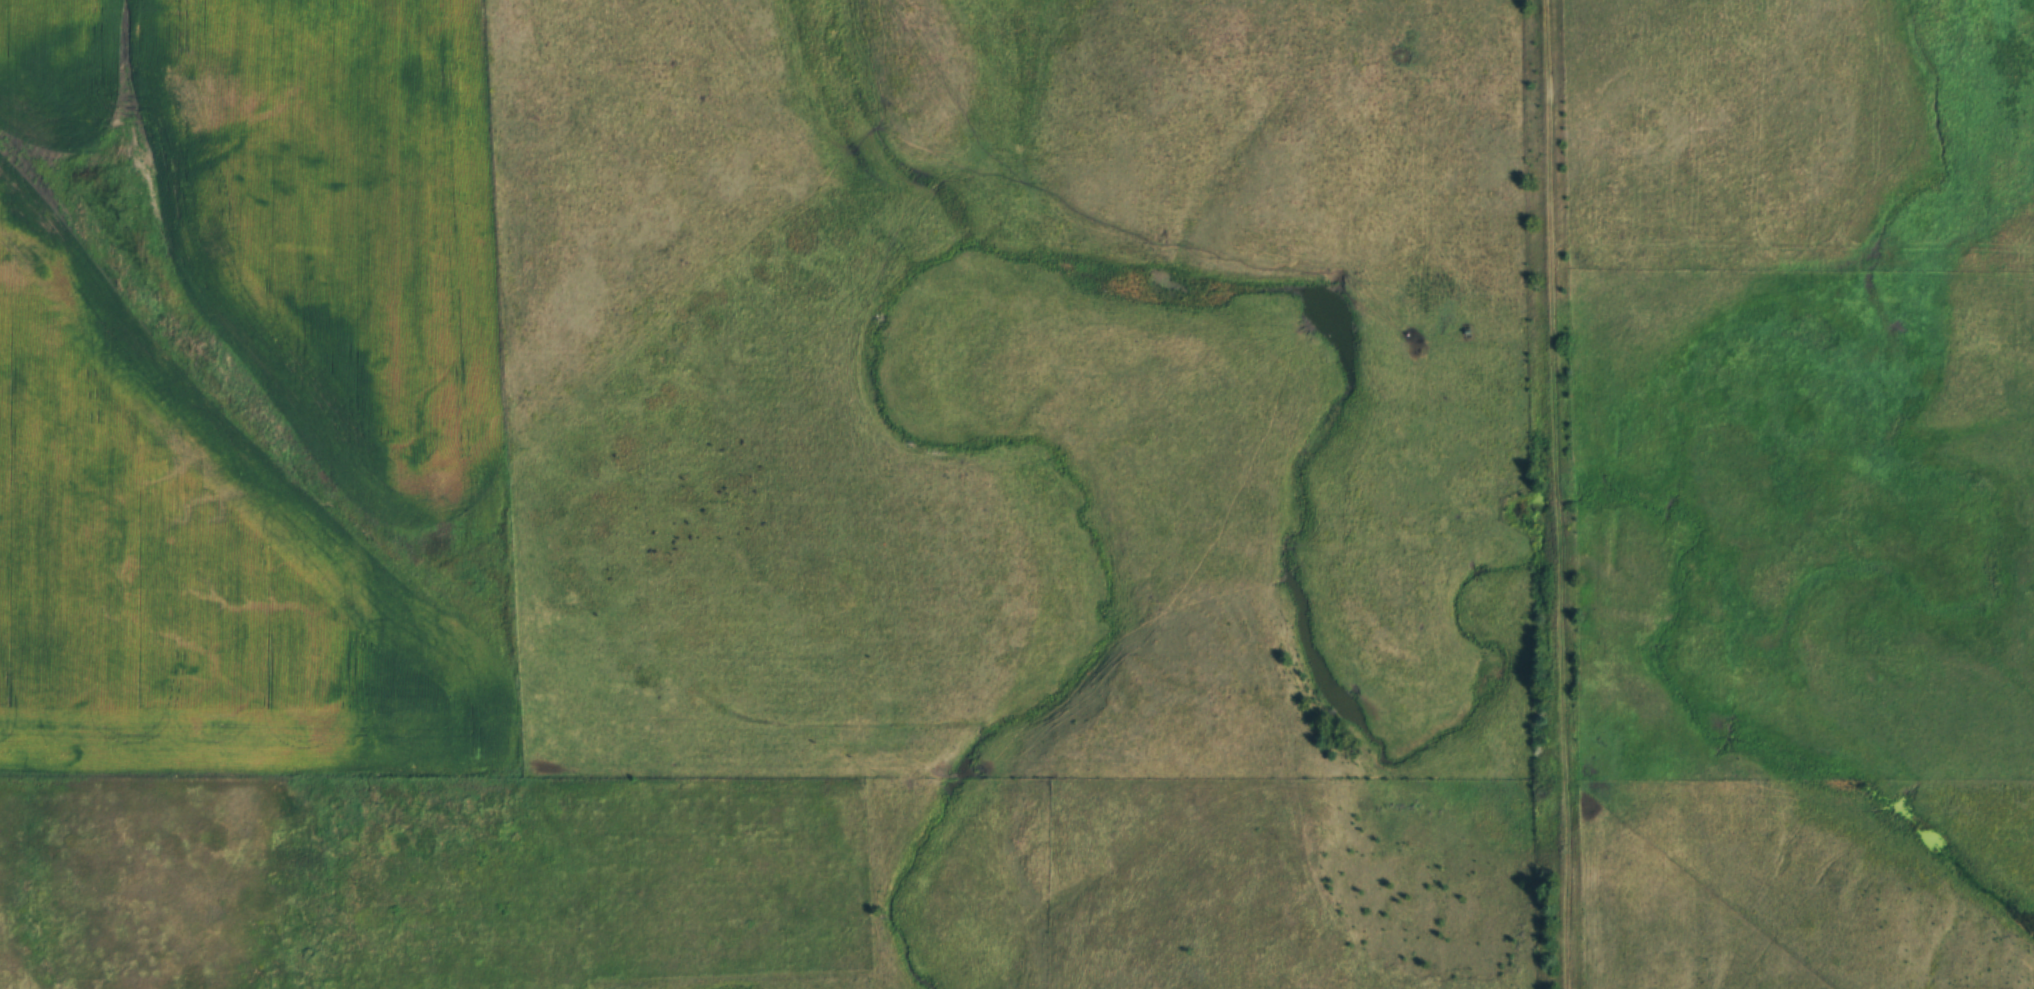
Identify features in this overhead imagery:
road: (1571, 853)

